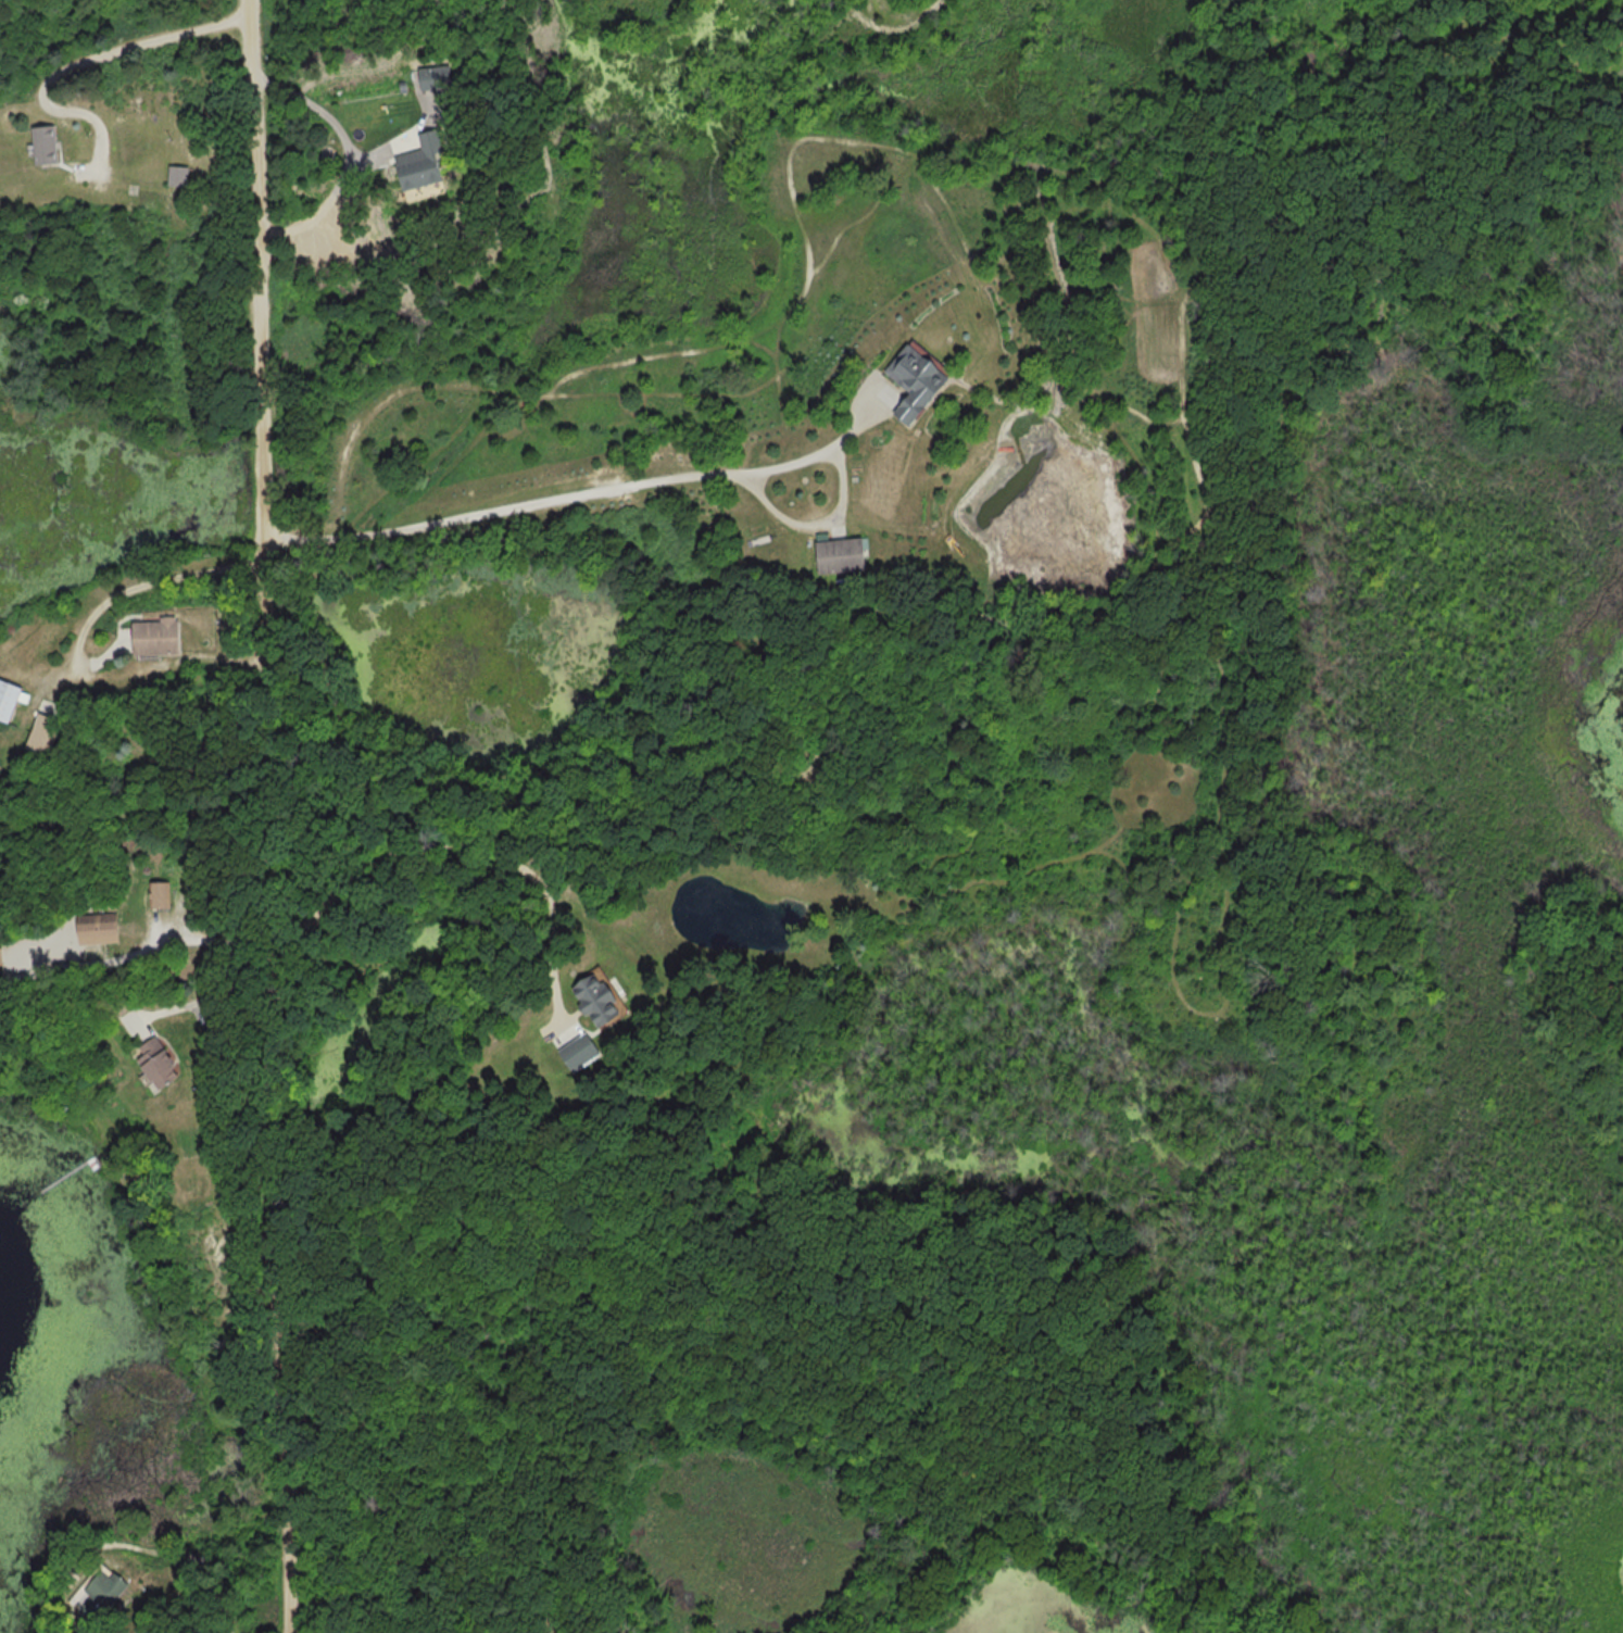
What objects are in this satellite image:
road: (91, 55)
building: (440, 77)
building: (48, 145)
road: (349, 156)
building: (430, 162)
building: (181, 175)
building: (919, 380)
road: (575, 493)
building: (844, 555)
road: (130, 587)
building: (162, 637)
building: (9, 700)
building: (42, 734)
road: (279, 816)
road: (471, 851)
building: (164, 895)
building: (103, 928)
road: (140, 951)
road: (217, 991)
building: (593, 995)
road: (221, 1012)
building: (577, 1050)
building: (153, 1062)
park: (1086, 1072)
building: (103, 1585)

